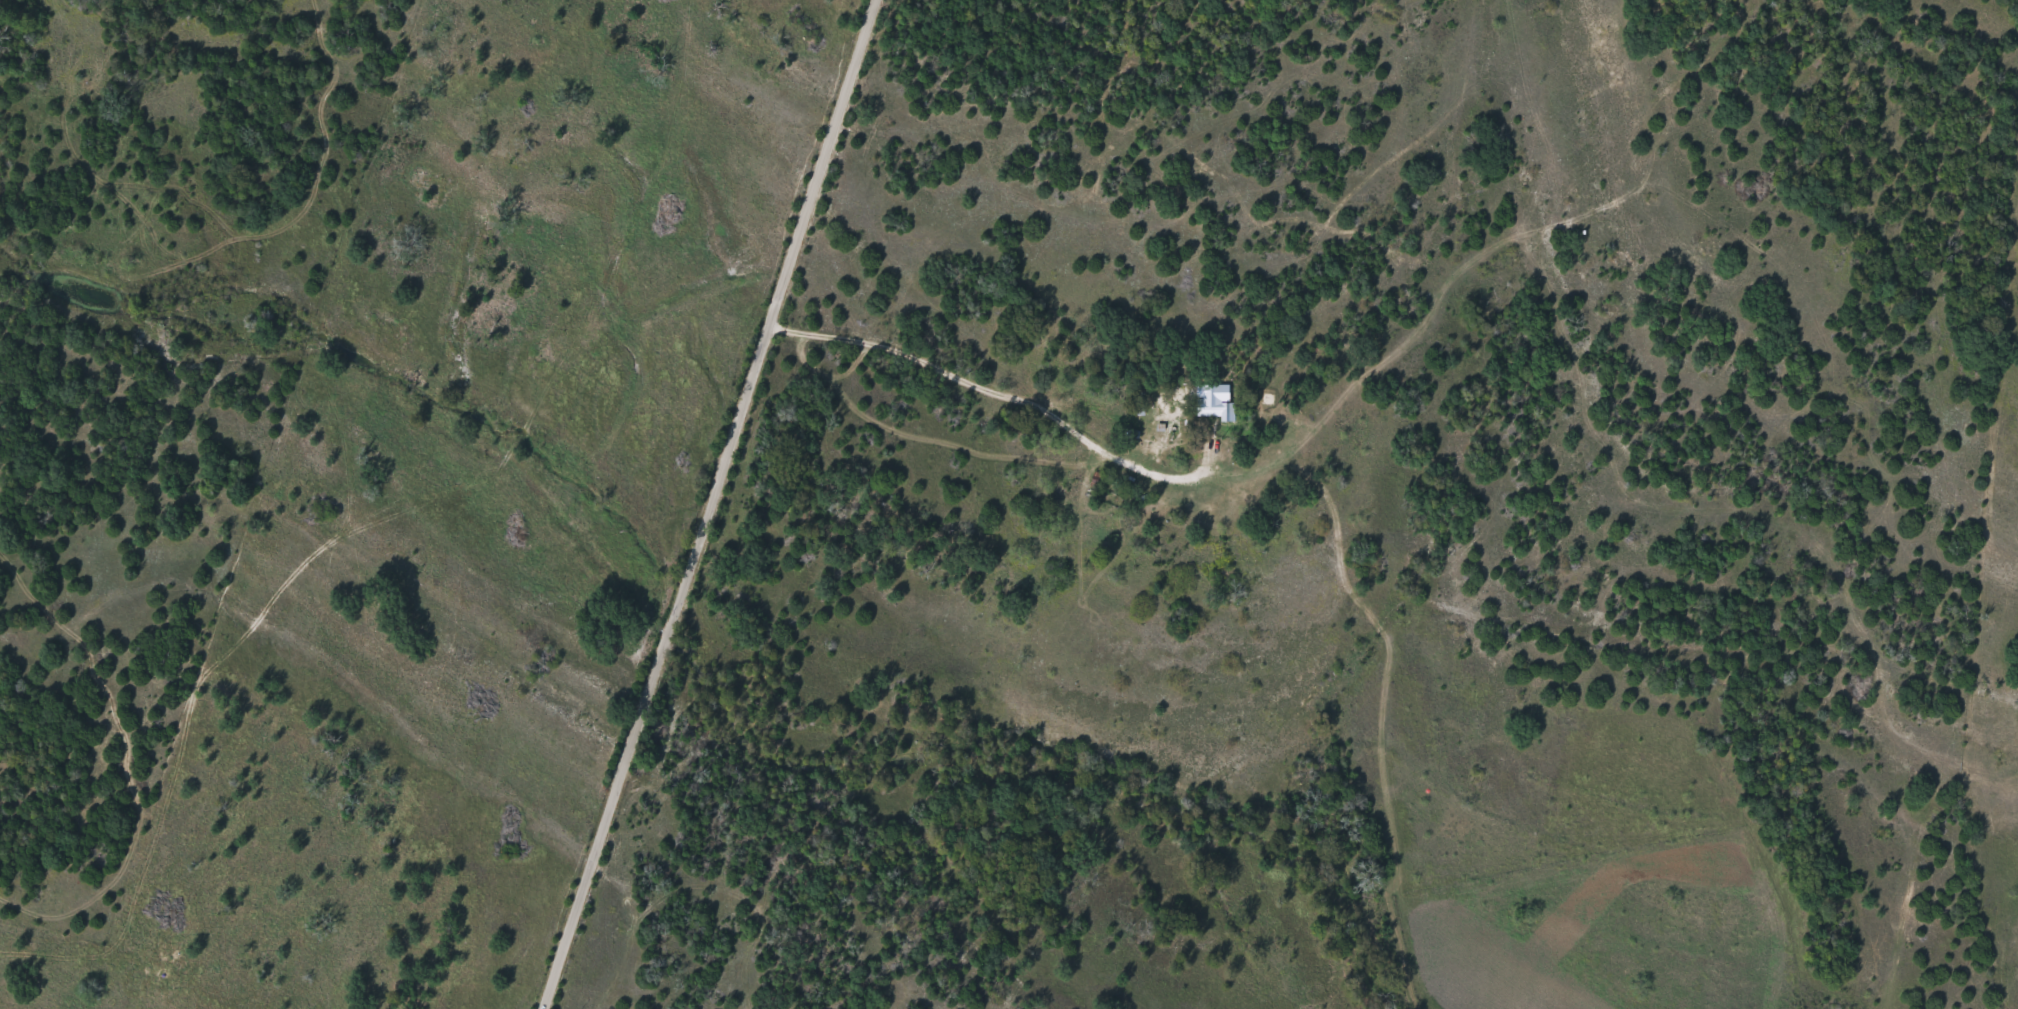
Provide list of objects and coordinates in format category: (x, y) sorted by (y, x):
building: (1215, 408)
road: (718, 500)
road: (1435, 630)

